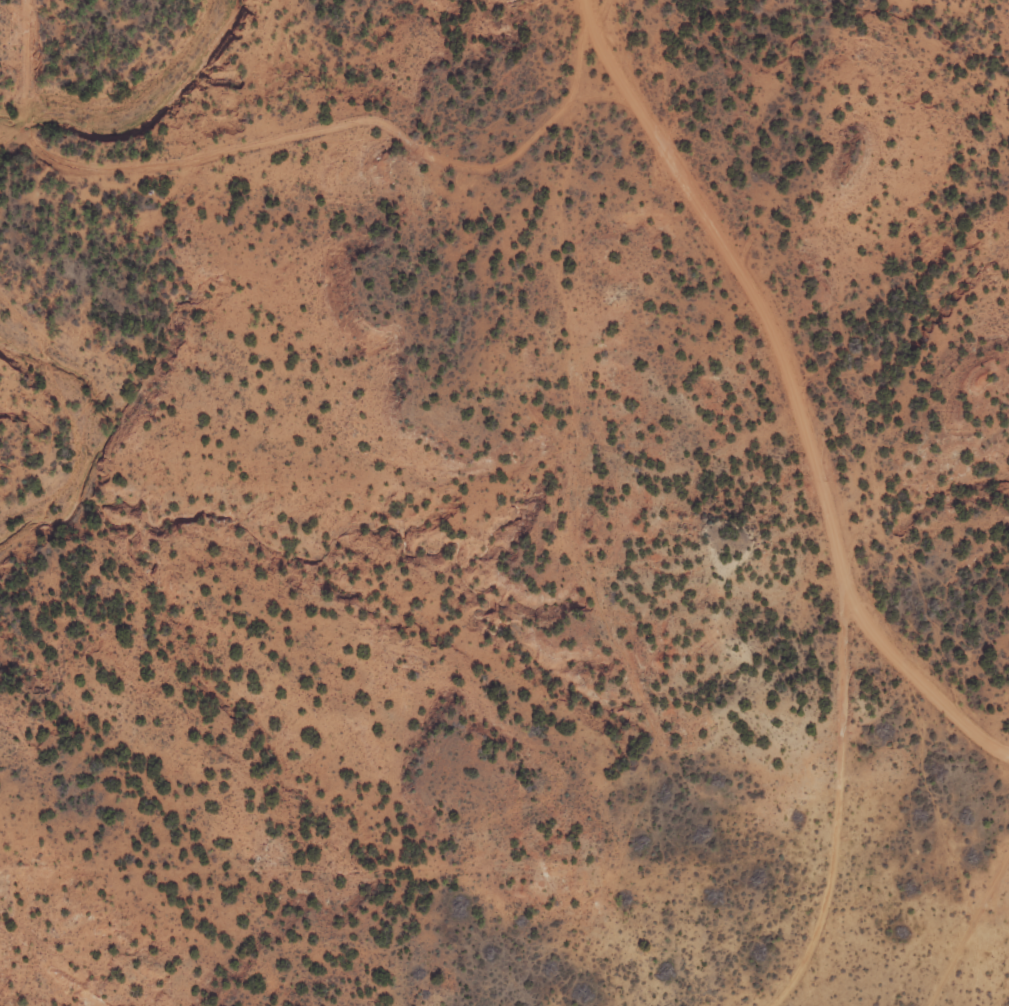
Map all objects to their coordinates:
road: (812, 485)

